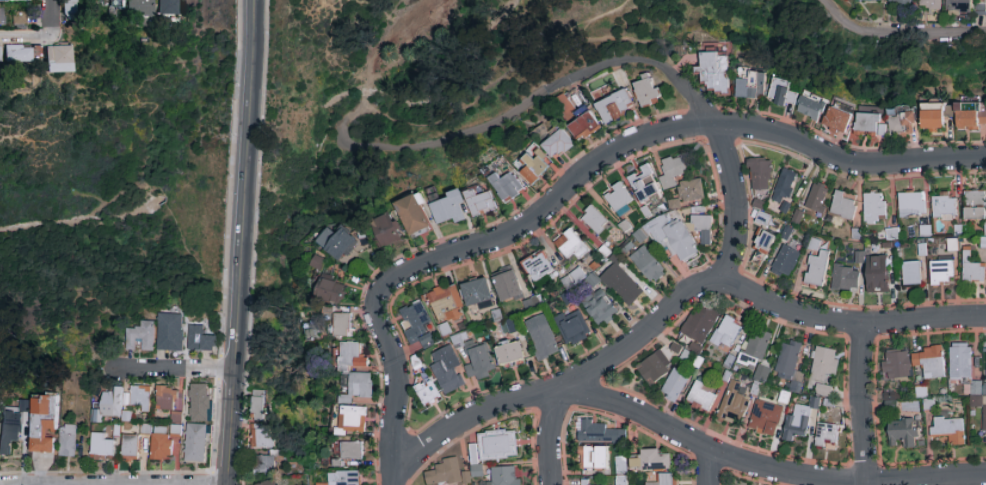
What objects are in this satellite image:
building: (899, 2)
building: (930, 4)
building: (958, 6)
building: (0, 7)
building: (68, 7)
building: (139, 7)
building: (167, 7)
building: (19, 16)
road: (53, 19)
road: (843, 21)
road: (928, 34)
road: (27, 38)
building: (17, 53)
building: (57, 59)
road: (388, 62)
road: (610, 63)
building: (680, 67)
building: (715, 73)
building: (749, 84)
building: (647, 90)
building: (781, 93)
building: (563, 103)
building: (811, 105)
building: (615, 107)
building: (934, 116)
building: (971, 116)
building: (837, 120)
building: (902, 123)
building: (868, 124)
building: (584, 127)
building: (558, 145)
building: (534, 169)
building: (759, 175)
road: (581, 178)
building: (695, 181)
building: (507, 186)
building: (644, 186)
building: (783, 188)
building: (817, 198)
building: (618, 199)
building: (480, 201)
building: (843, 205)
building: (910, 205)
building: (974, 205)
building: (943, 206)
building: (874, 208)
building: (449, 209)
building: (413, 215)
building: (763, 219)
building: (594, 221)
road: (72, 224)
building: (704, 230)
building: (387, 231)
building: (680, 241)
building: (763, 241)
road: (242, 242)
building: (342, 245)
building: (571, 247)
building: (318, 262)
building: (785, 262)
building: (647, 264)
building: (538, 266)
building: (817, 270)
building: (972, 271)
building: (941, 273)
building: (878, 274)
building: (911, 275)
building: (845, 278)
building: (507, 286)
building: (625, 288)
building: (330, 291)
building: (476, 292)
road: (754, 293)
building: (444, 304)
building: (599, 308)
building: (700, 324)
building: (343, 325)
building: (417, 325)
building: (572, 330)
building: (171, 332)
building: (726, 333)
building: (142, 336)
building: (540, 337)
building: (201, 339)
building: (754, 346)
building: (352, 355)
building: (510, 355)
building: (787, 360)
building: (480, 361)
building: (929, 362)
building: (960, 362)
building: (825, 364)
building: (895, 365)
road: (168, 366)
building: (654, 368)
building: (446, 370)
building: (985, 378)
building: (360, 386)
building: (674, 386)
building: (426, 387)
building: (702, 396)
building: (140, 398)
building: (167, 399)
building: (200, 403)
road: (857, 403)
building: (258, 405)
building: (733, 405)
building: (107, 406)
road: (472, 416)
building: (175, 417)
building: (765, 418)
building: (353, 419)
building: (796, 422)
building: (984, 423)
building: (44, 424)
building: (947, 429)
building: (598, 433)
building: (903, 433)
building: (826, 435)
building: (10, 436)
road: (550, 436)
building: (262, 438)
building: (68, 440)
building: (196, 443)
building: (160, 444)
building: (101, 447)
building: (130, 447)
building: (352, 451)
building: (476, 457)
building: (593, 458)
building: (652, 460)
building: (266, 464)
building: (621, 466)
road: (707, 469)
road: (765, 470)
building: (504, 476)
building: (343, 478)
building: (620, 479)
building: (667, 479)
building: (577, 482)
building: (271, 483)
road: (217, 484)

